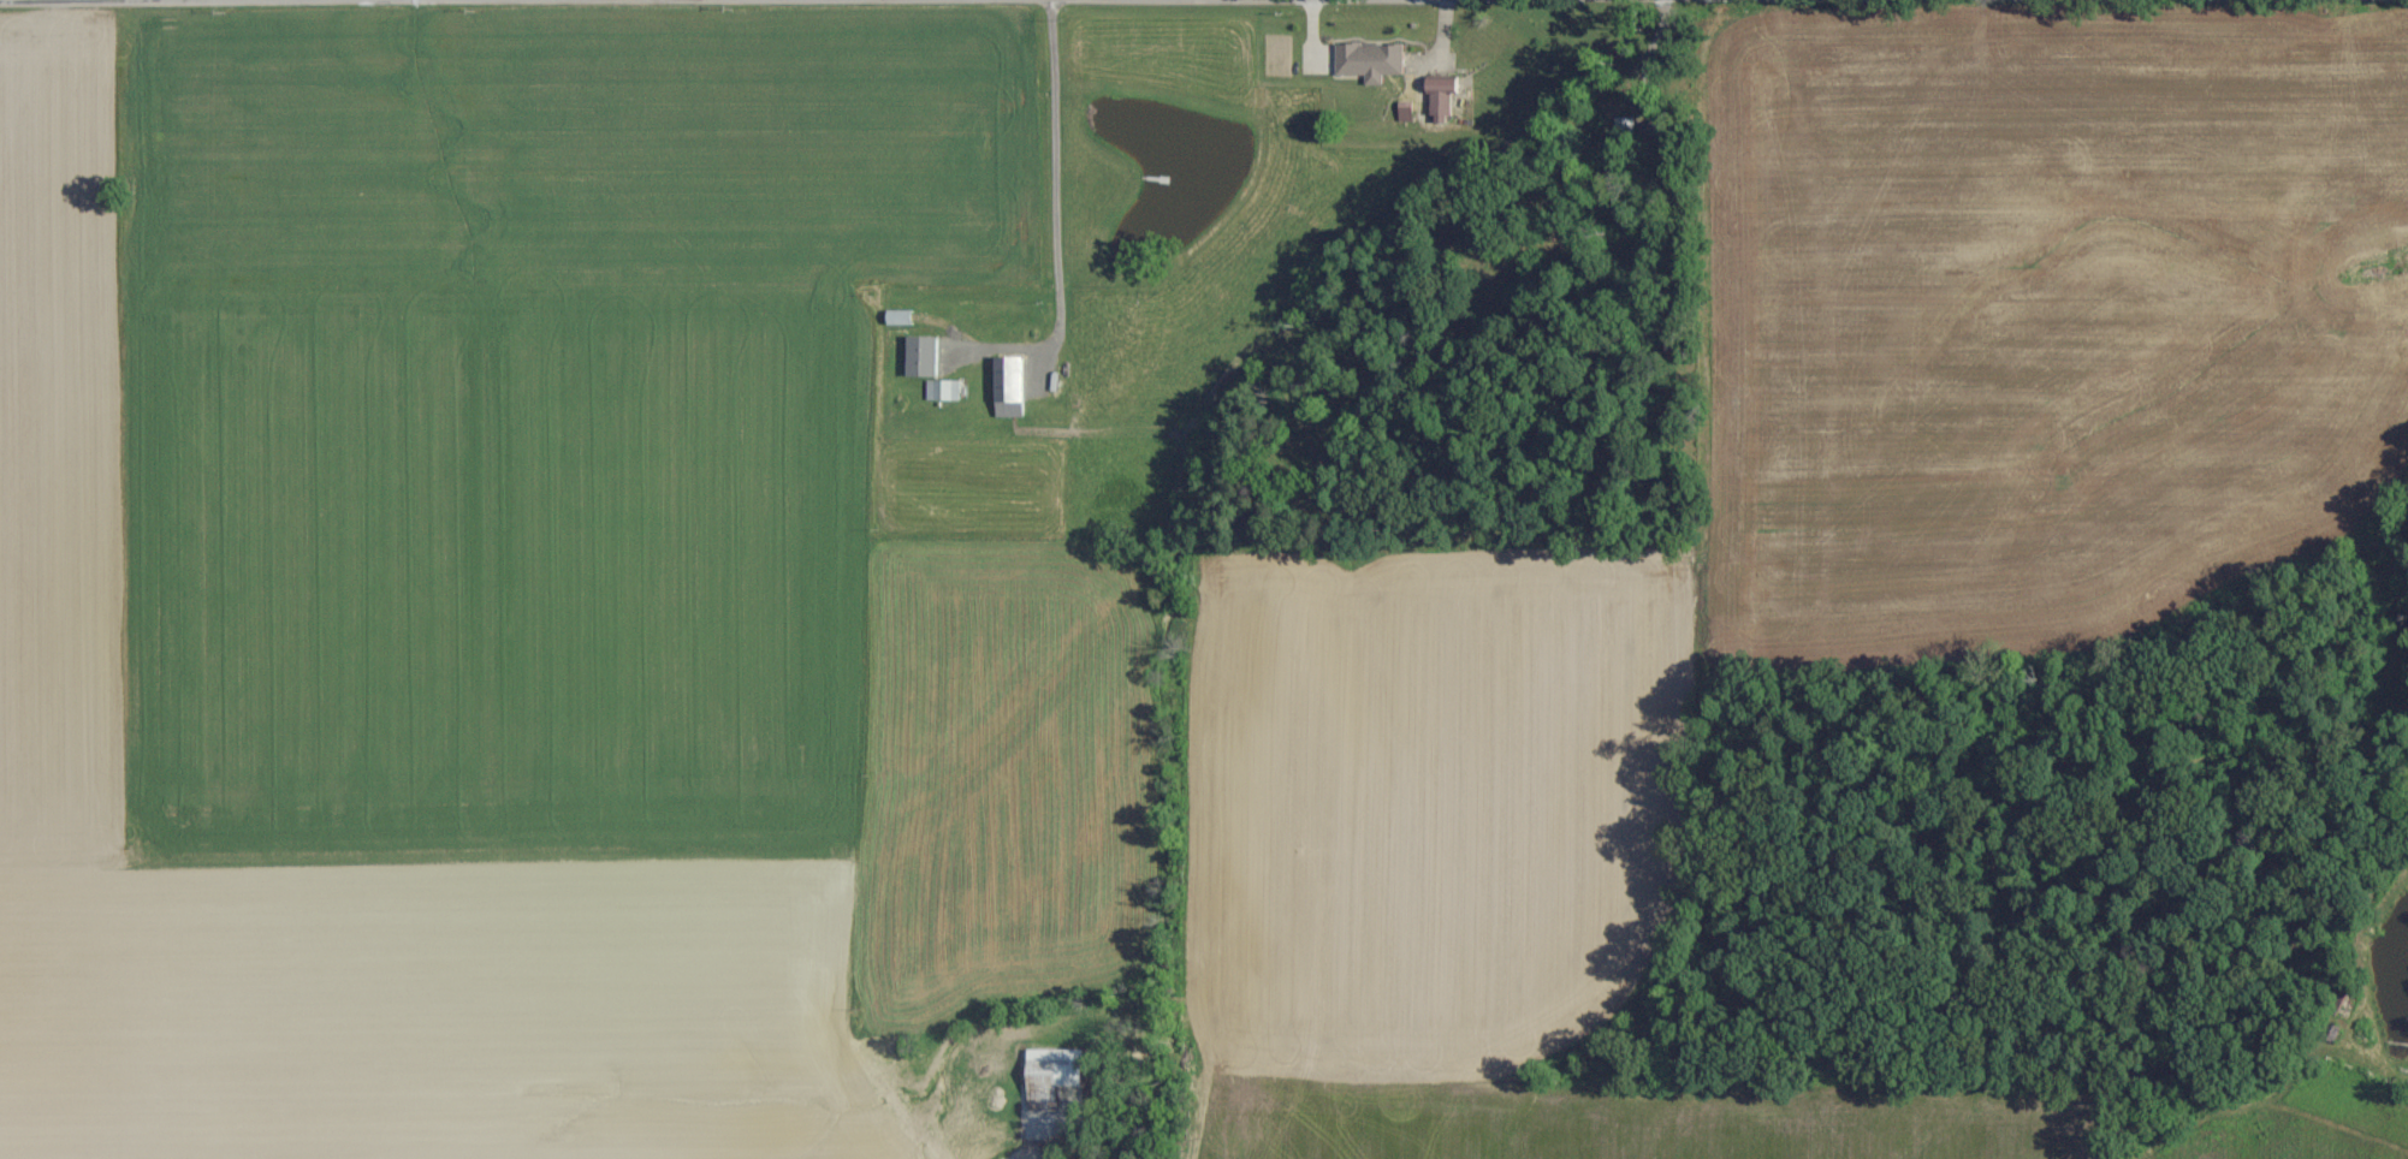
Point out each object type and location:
road: (642, 1)
building: (1372, 61)
building: (1445, 100)
building: (1407, 112)
road: (1049, 170)
building: (923, 357)
building: (1010, 387)
building: (942, 391)

